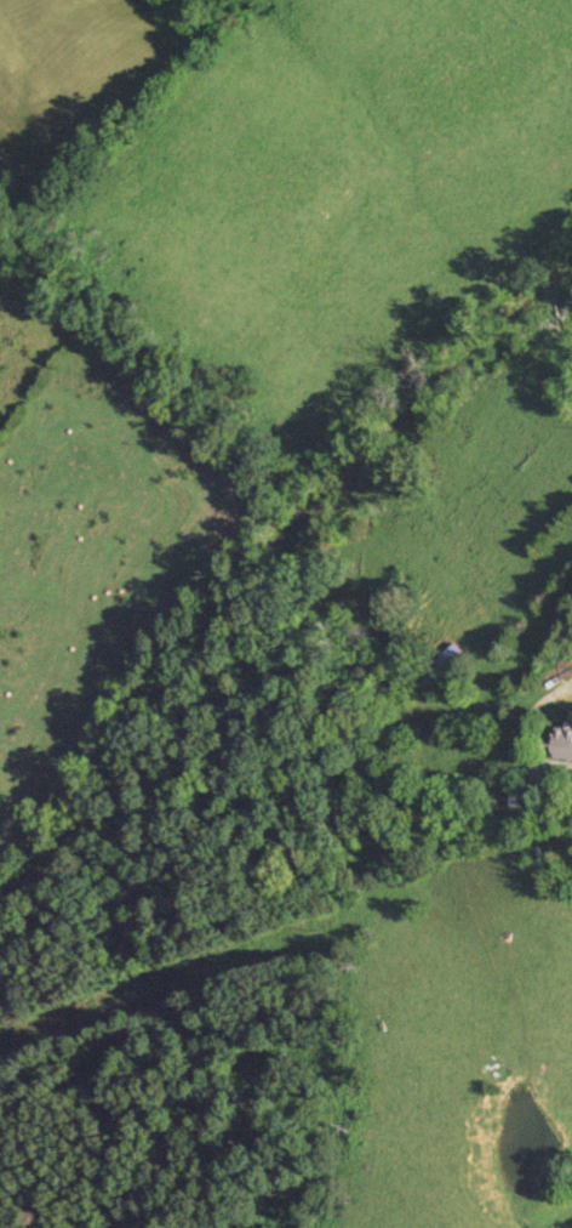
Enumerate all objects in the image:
road: (530, 728)
building: (564, 746)

